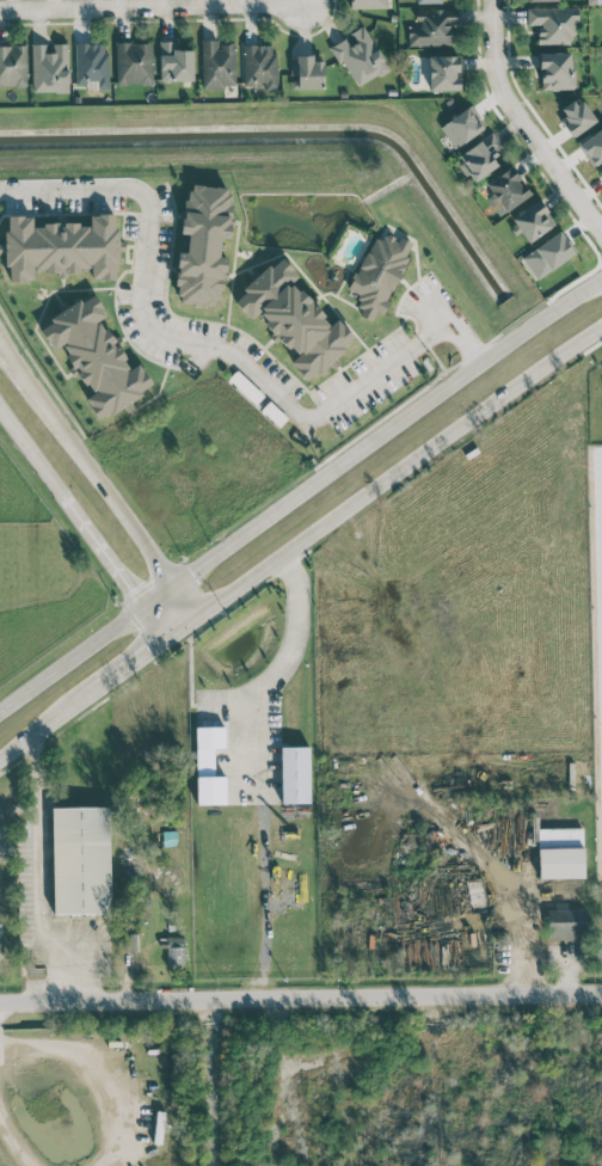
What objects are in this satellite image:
building: (430, 0)
building: (540, 0)
road: (299, 1)
building: (369, 4)
road: (149, 6)
building: (553, 24)
building: (432, 26)
building: (360, 56)
building: (134, 62)
building: (174, 62)
building: (217, 63)
building: (13, 65)
building: (91, 65)
building: (259, 65)
building: (49, 67)
building: (555, 69)
building: (306, 72)
building: (443, 72)
road: (524, 122)
building: (461, 125)
river: (293, 135)
building: (592, 146)
building: (479, 157)
building: (601, 172)
building: (506, 189)
building: (533, 220)
building: (203, 244)
building: (61, 246)
building: (547, 254)
building: (379, 272)
building: (294, 319)
road: (460, 326)
road: (437, 327)
road: (450, 337)
road: (166, 338)
road: (472, 352)
building: (94, 356)
road: (370, 440)
road: (31, 455)
road: (401, 467)
road: (100, 474)
road: (102, 552)
traffic signals: (178, 579)
traffic signals: (141, 606)
traffic signals: (202, 610)
road: (152, 620)
road: (183, 622)
traffic signals: (164, 636)
road: (70, 657)
road: (121, 668)
road: (39, 729)
building: (407, 741)
building: (209, 766)
road: (252, 769)
building: (295, 774)
building: (560, 852)
building: (80, 859)
road: (486, 867)
road: (37, 885)
building: (566, 922)
building: (176, 950)
road: (301, 1000)
road: (92, 1073)
road: (211, 1082)
landfill: (93, 1096)
road: (16, 1141)

